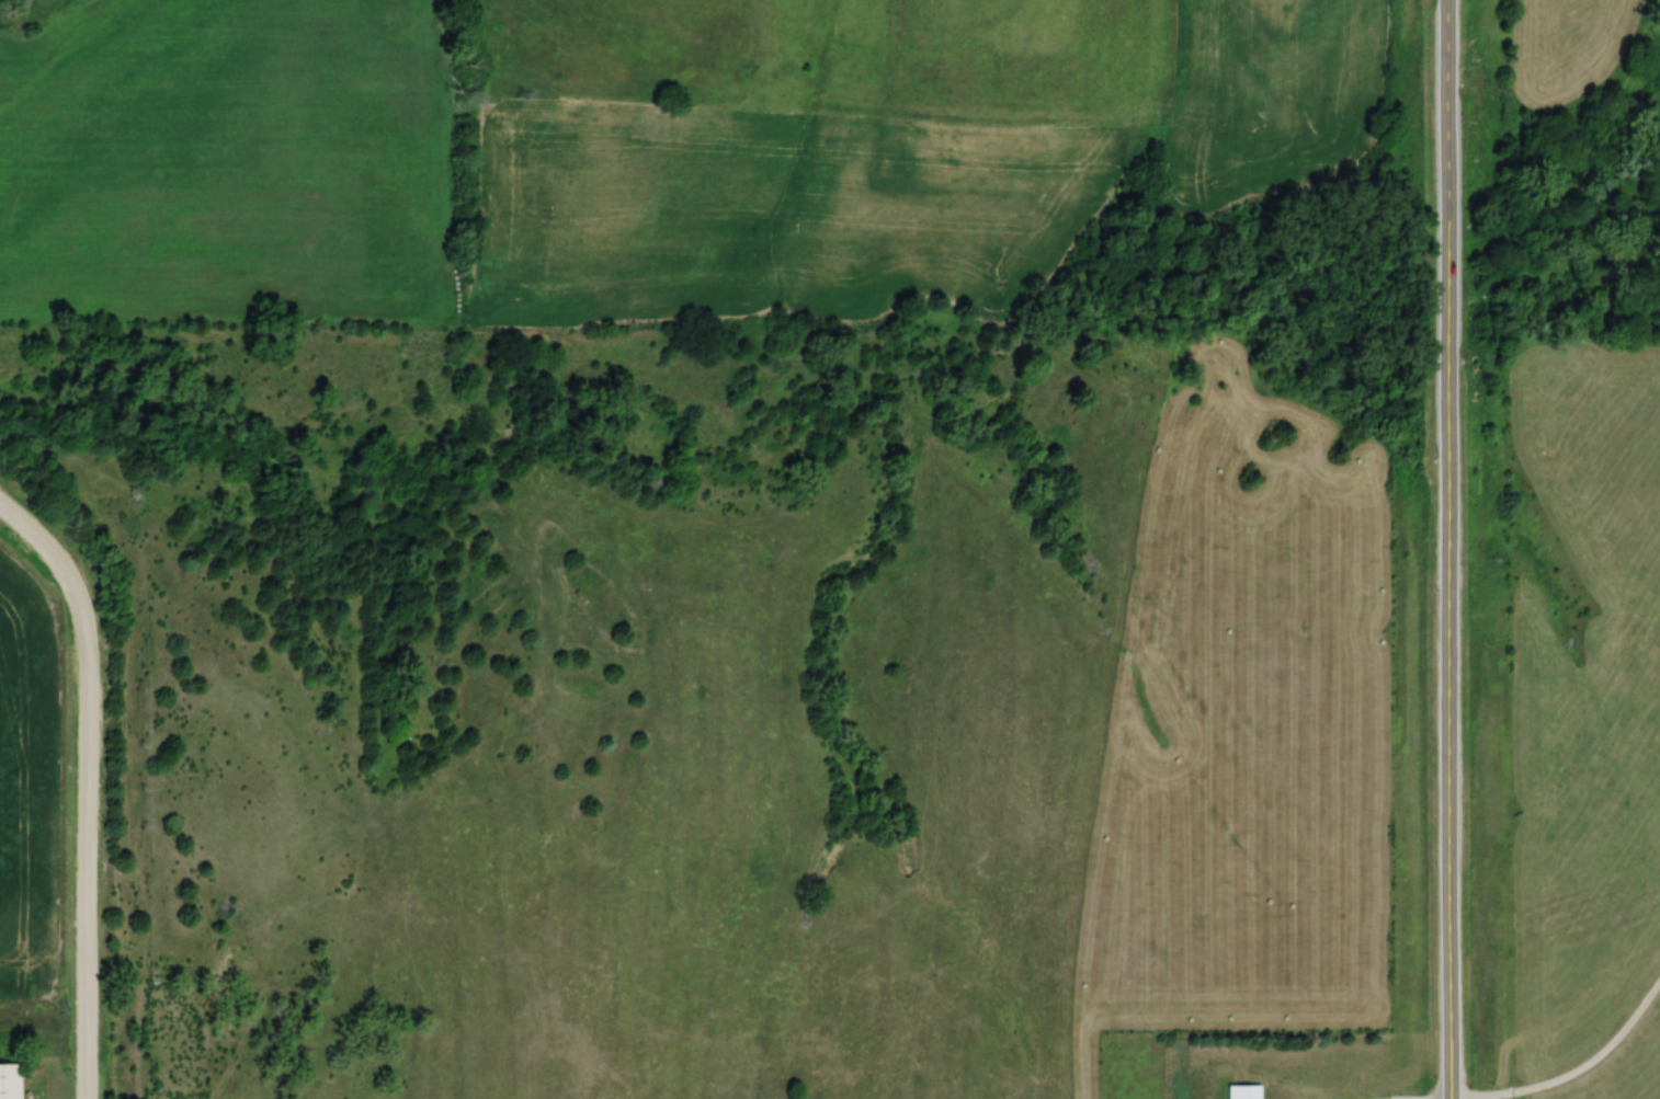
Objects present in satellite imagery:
road: (1445, 549)
road: (84, 789)
road: (1599, 1064)
building: (7, 1079)
building: (1242, 1091)

